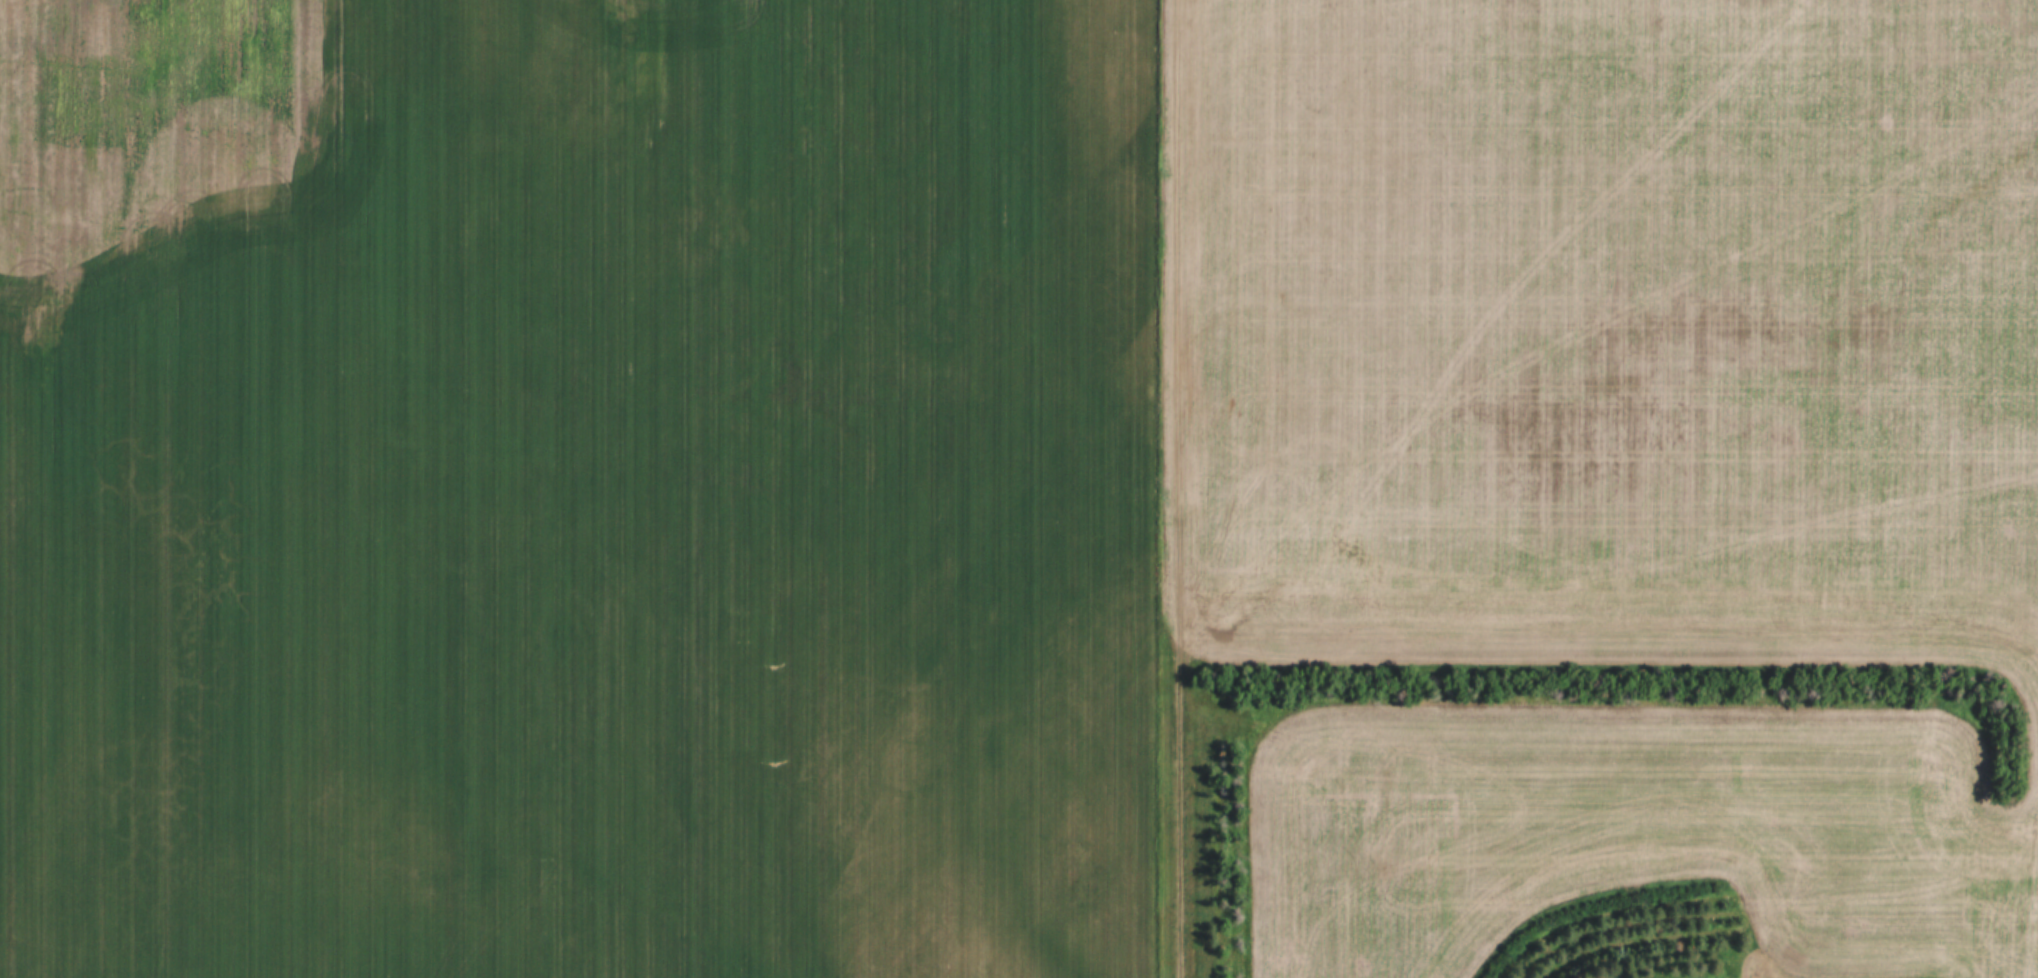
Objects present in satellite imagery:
road: (1182, 488)

